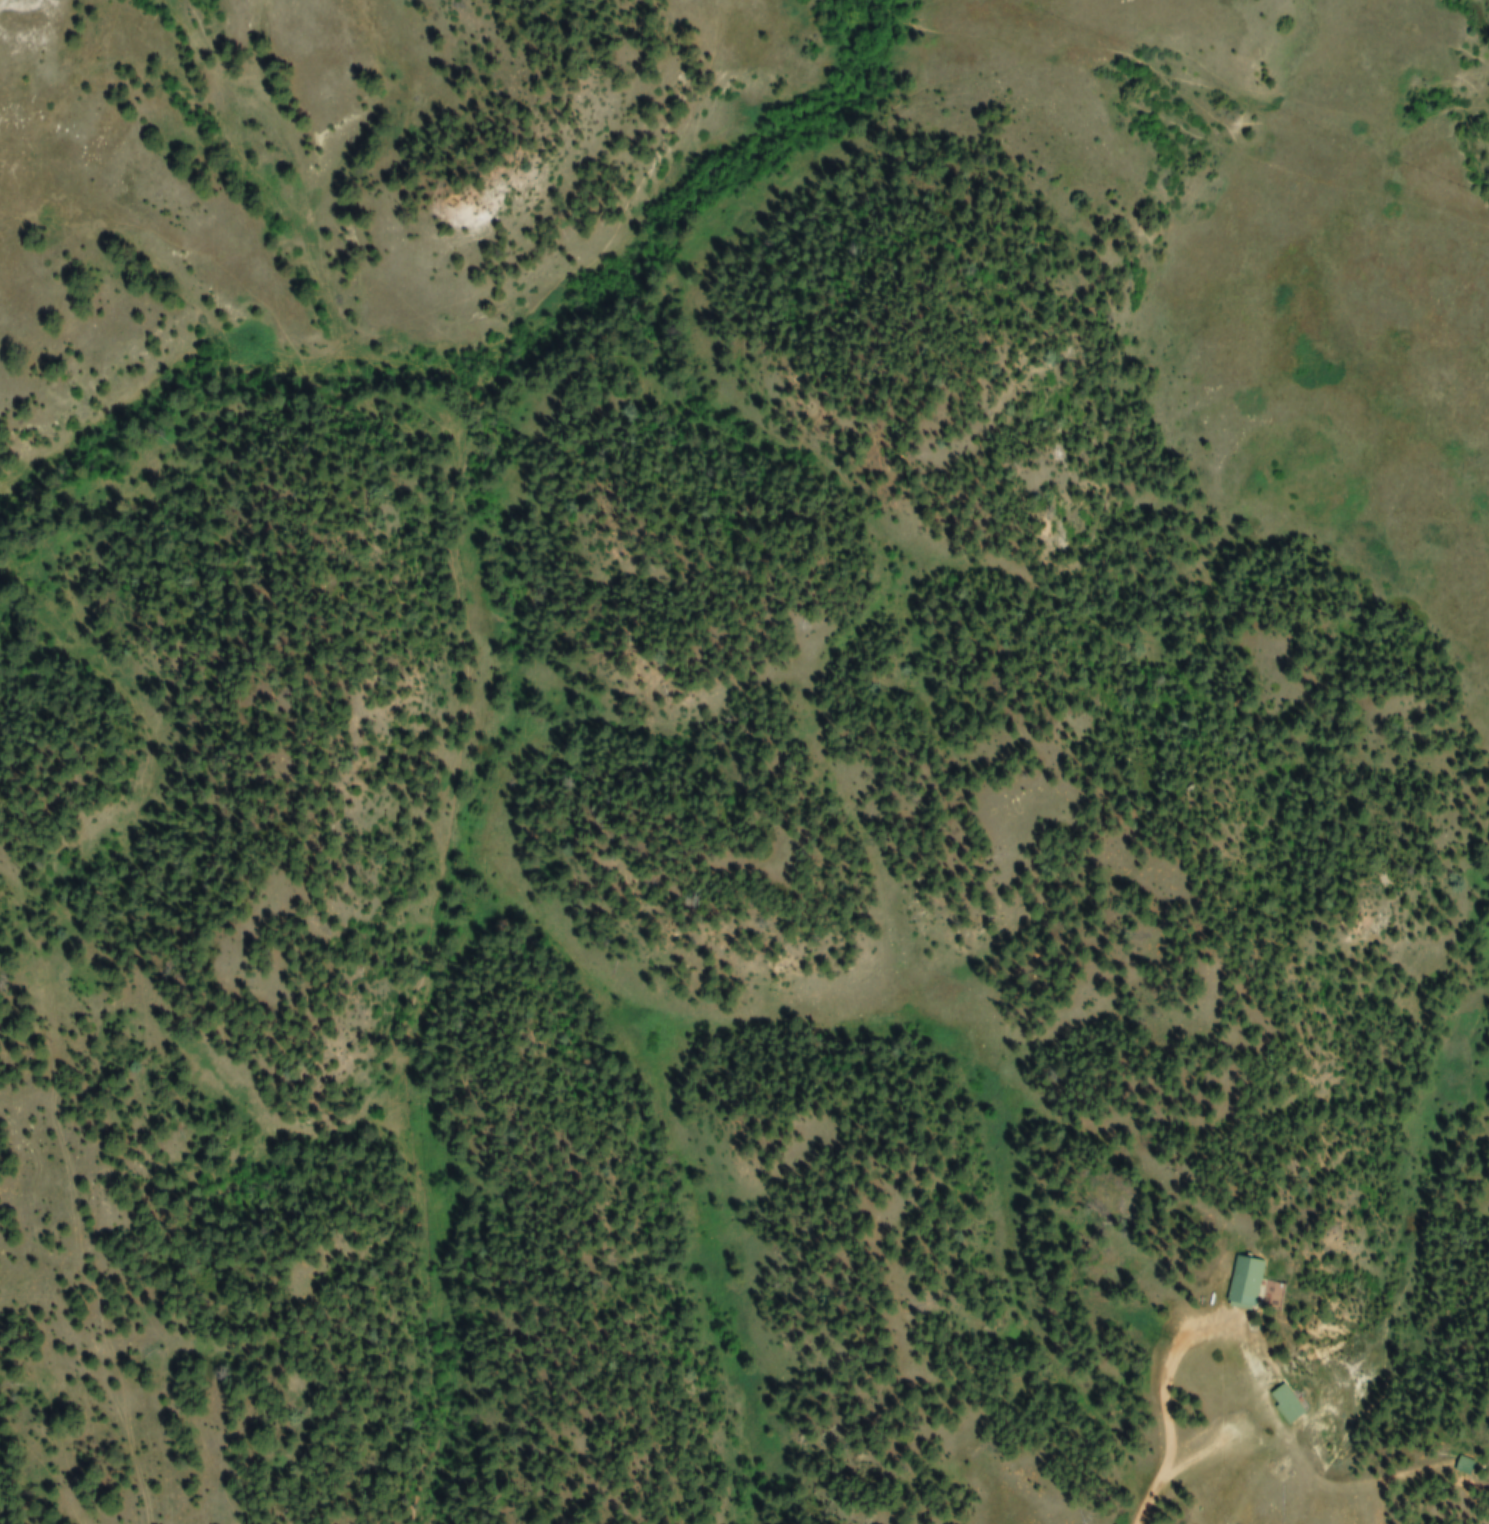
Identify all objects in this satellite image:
building: (1247, 1282)
building: (1288, 1403)
road: (1169, 1423)
building: (1467, 1462)

